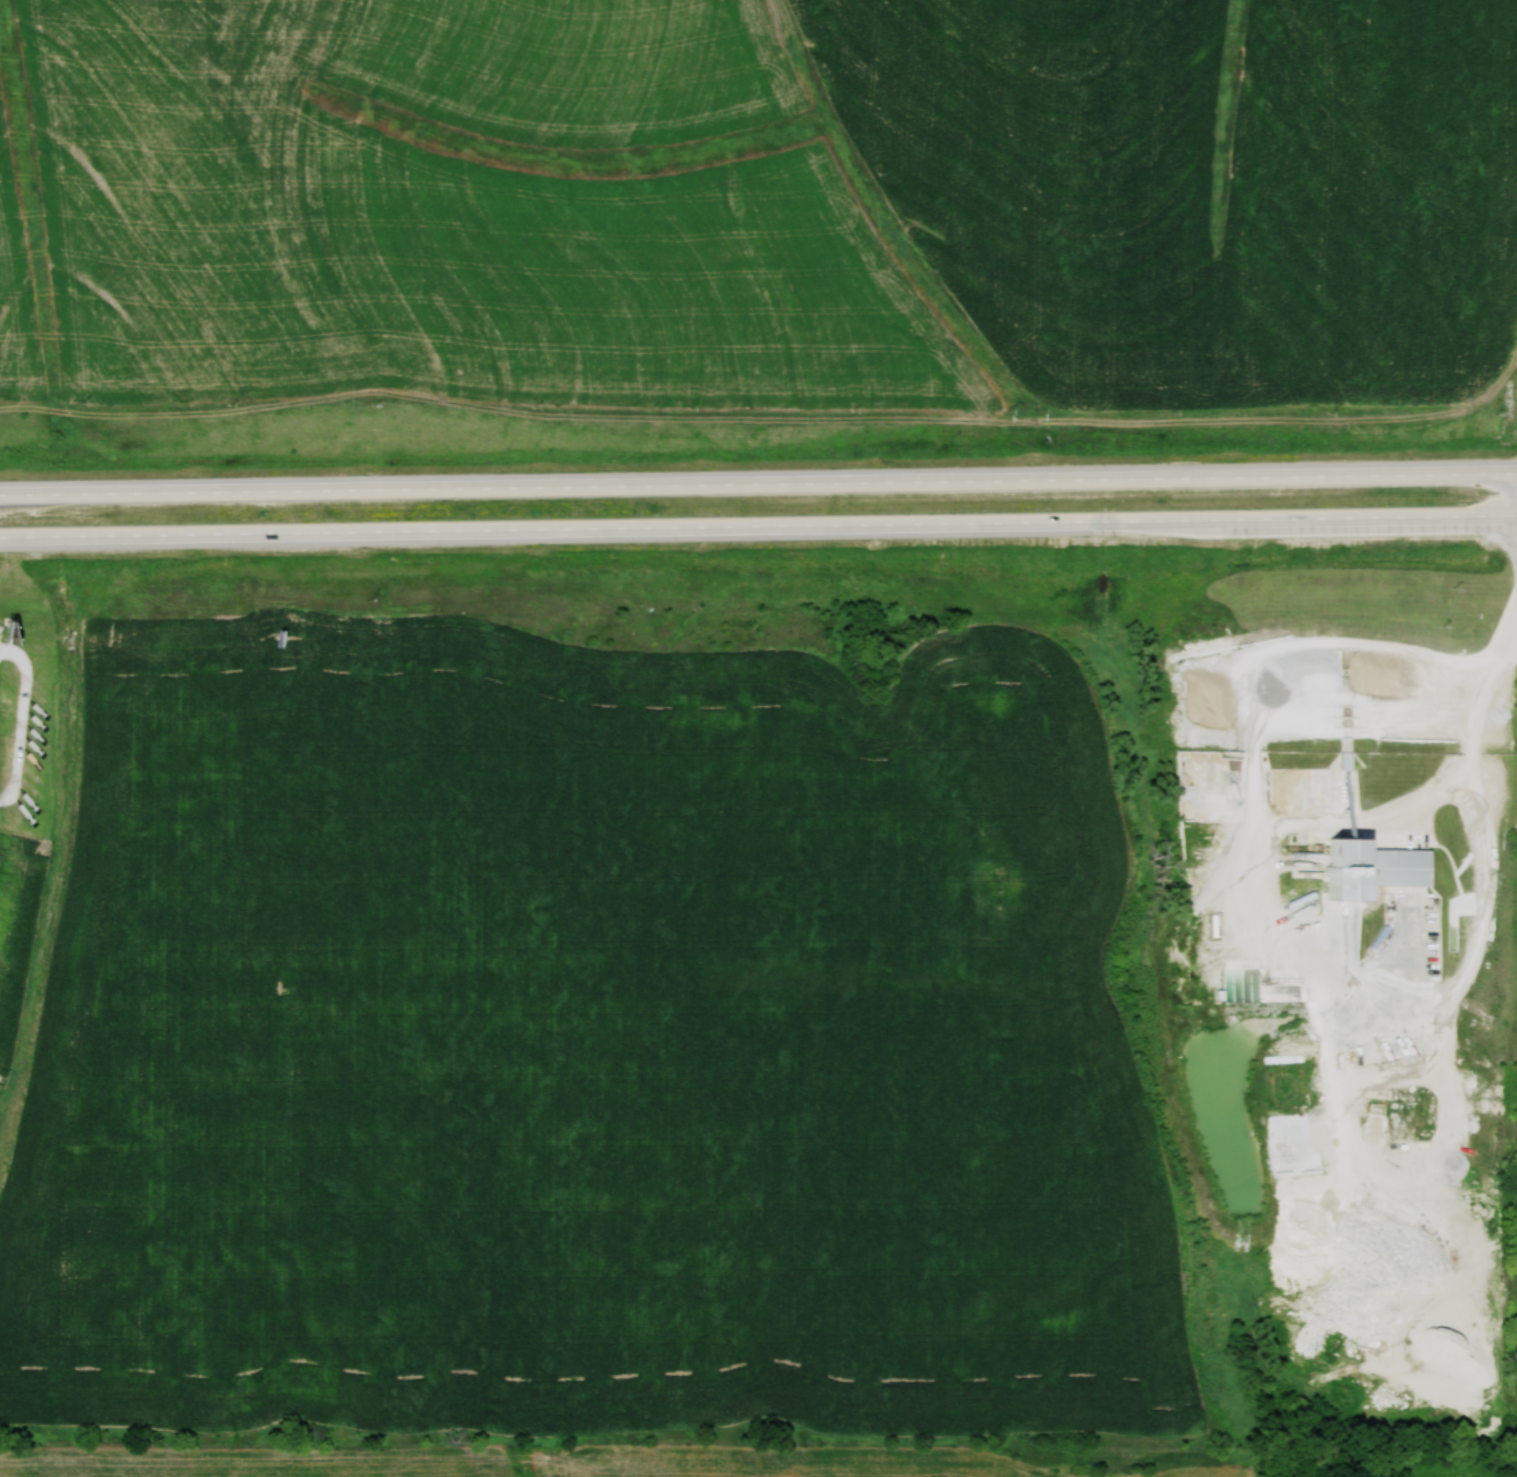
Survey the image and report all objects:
road: (758, 480)
road: (758, 535)
road: (1263, 730)
road: (1369, 823)
building: (1362, 865)
road: (1486, 891)
road: (1379, 1015)

